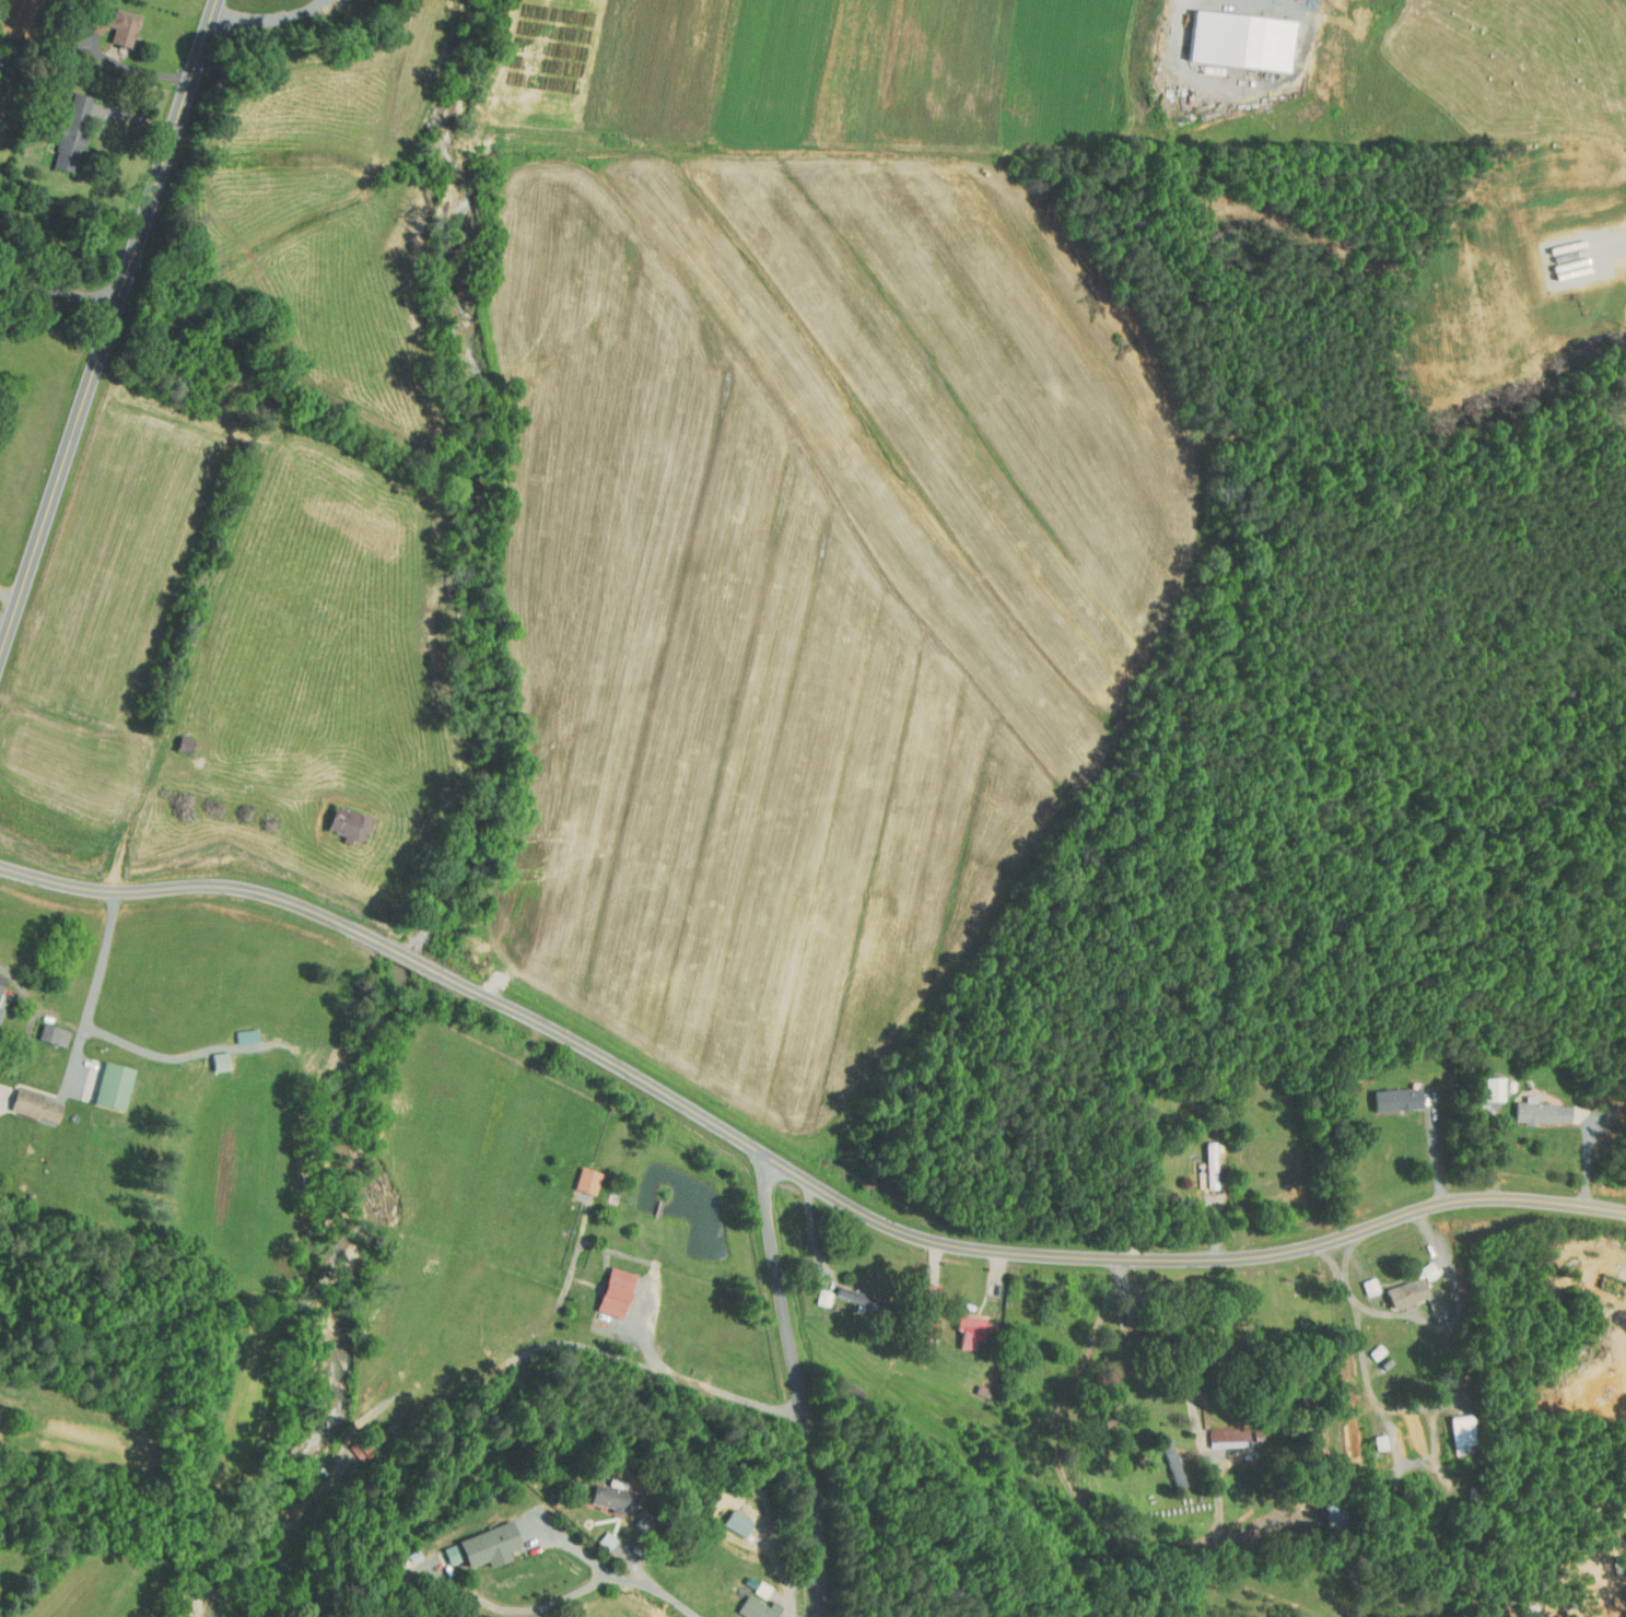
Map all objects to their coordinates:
building: (102, 19)
road: (269, 20)
building: (1231, 33)
road: (138, 69)
building: (60, 127)
road: (59, 293)
road: (108, 328)
road: (10, 591)
road: (4, 624)
building: (338, 818)
road: (98, 975)
road: (34, 1017)
building: (43, 1029)
building: (235, 1029)
road: (144, 1050)
building: (208, 1055)
building: (101, 1079)
building: (1483, 1082)
building: (1387, 1092)
building: (25, 1100)
building: (1531, 1105)
road: (1434, 1153)
building: (1201, 1159)
road: (789, 1170)
building: (576, 1173)
road: (812, 1233)
road: (1330, 1258)
building: (1359, 1279)
building: (919, 1284)
building: (605, 1285)
building: (1411, 1286)
building: (841, 1288)
building: (811, 1290)
building: (961, 1323)
road: (1180, 1323)
road: (1432, 1324)
road: (799, 1383)
road: (1399, 1406)
road: (705, 1427)
building: (1452, 1427)
building: (1369, 1434)
building: (1162, 1456)
building: (598, 1490)
building: (727, 1515)
building: (595, 1533)
building: (478, 1537)
building: (441, 1547)
building: (751, 1582)
road: (659, 1587)
road: (578, 1591)
building: (748, 1603)

